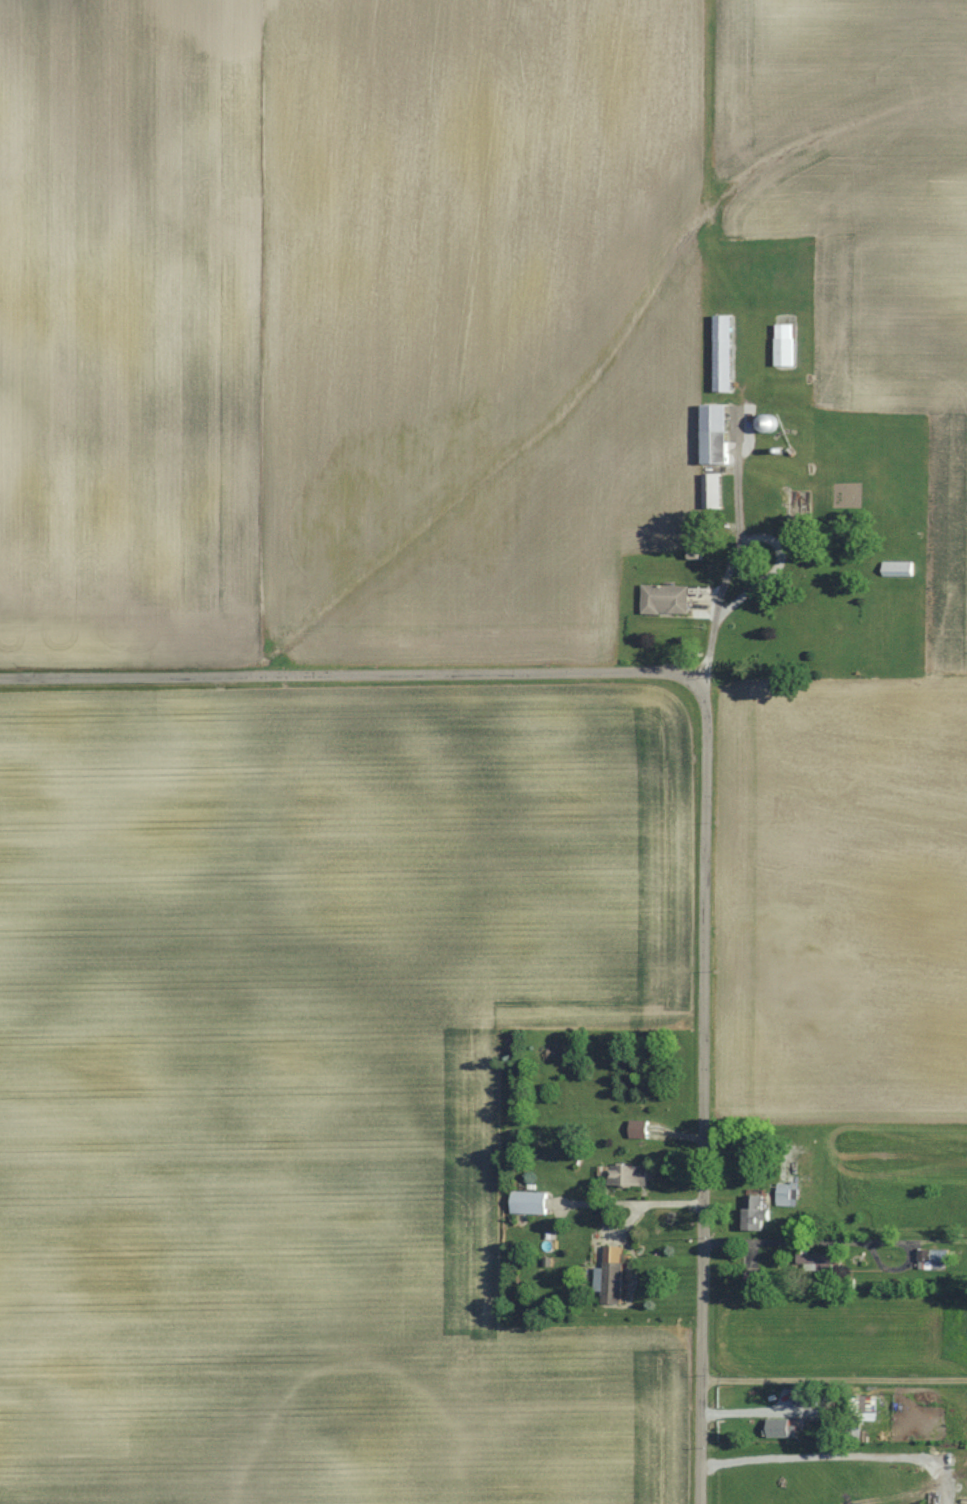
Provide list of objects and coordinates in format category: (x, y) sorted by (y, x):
building: (785, 345)
building: (723, 353)
building: (767, 423)
building: (715, 433)
road: (730, 557)
building: (898, 569)
building: (666, 600)
road: (339, 674)
road: (703, 1081)
building: (639, 1129)
building: (805, 1147)
building: (629, 1175)
building: (788, 1195)
building: (529, 1202)
road: (633, 1212)
building: (755, 1213)
road: (835, 1241)
building: (934, 1259)
building: (816, 1262)
building: (613, 1276)
road: (833, 1381)
building: (807, 1397)
building: (862, 1404)
building: (781, 1428)

